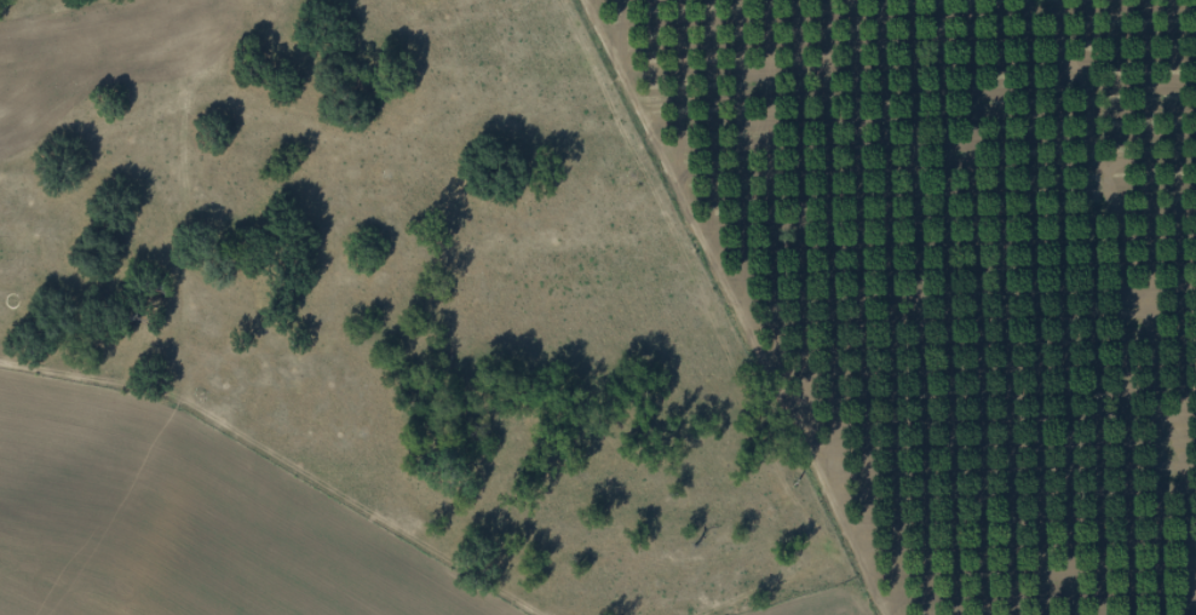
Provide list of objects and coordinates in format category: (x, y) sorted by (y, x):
road: (217, 316)

